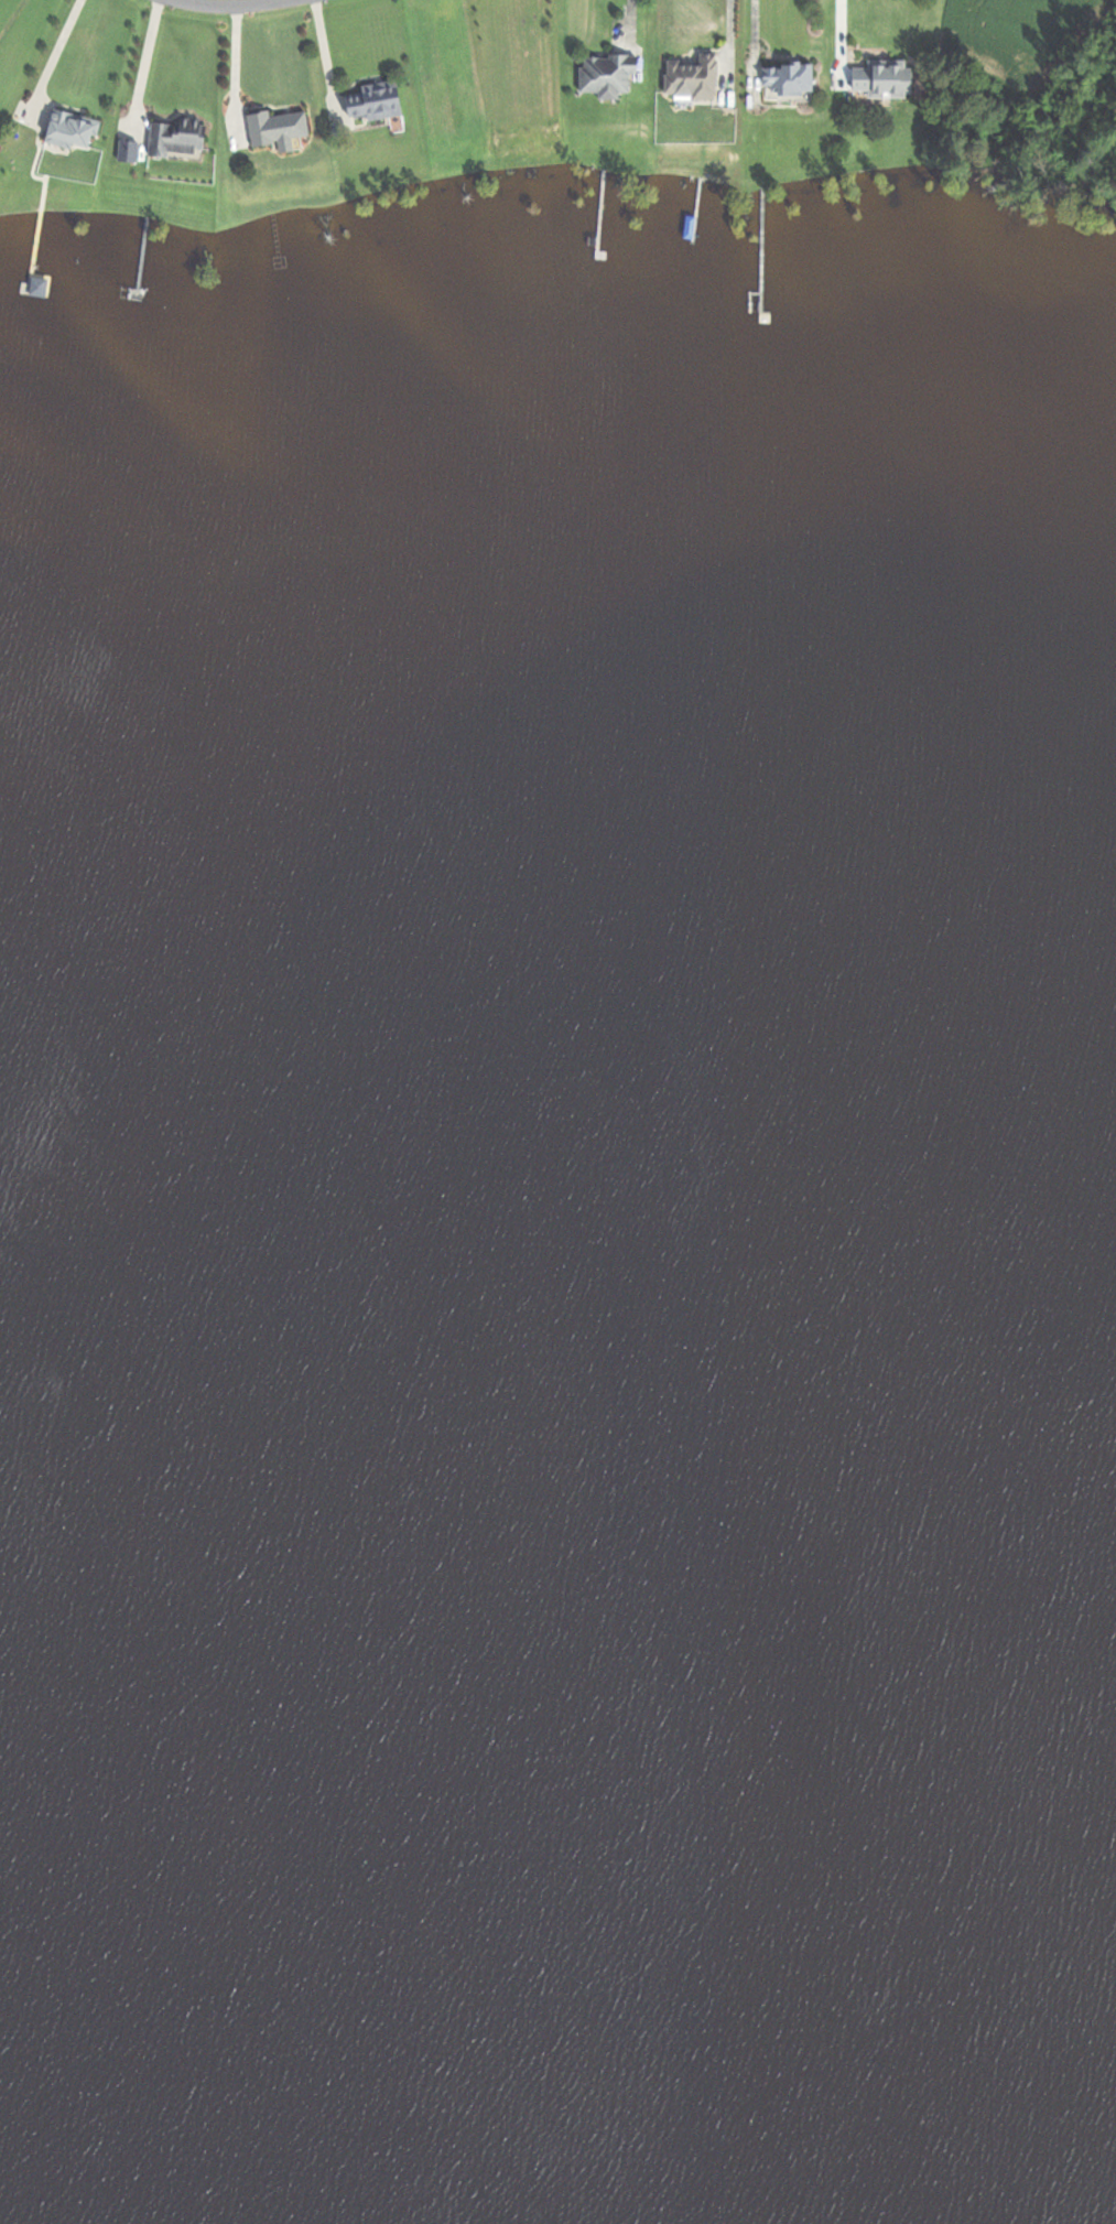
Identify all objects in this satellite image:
road: (235, 7)
road: (752, 31)
road: (839, 31)
road: (730, 39)
road: (58, 51)
road: (147, 63)
road: (237, 69)
building: (603, 74)
building: (689, 77)
building: (879, 78)
building: (784, 80)
building: (370, 100)
building: (274, 129)
building: (67, 130)
building: (172, 137)
building: (124, 151)

